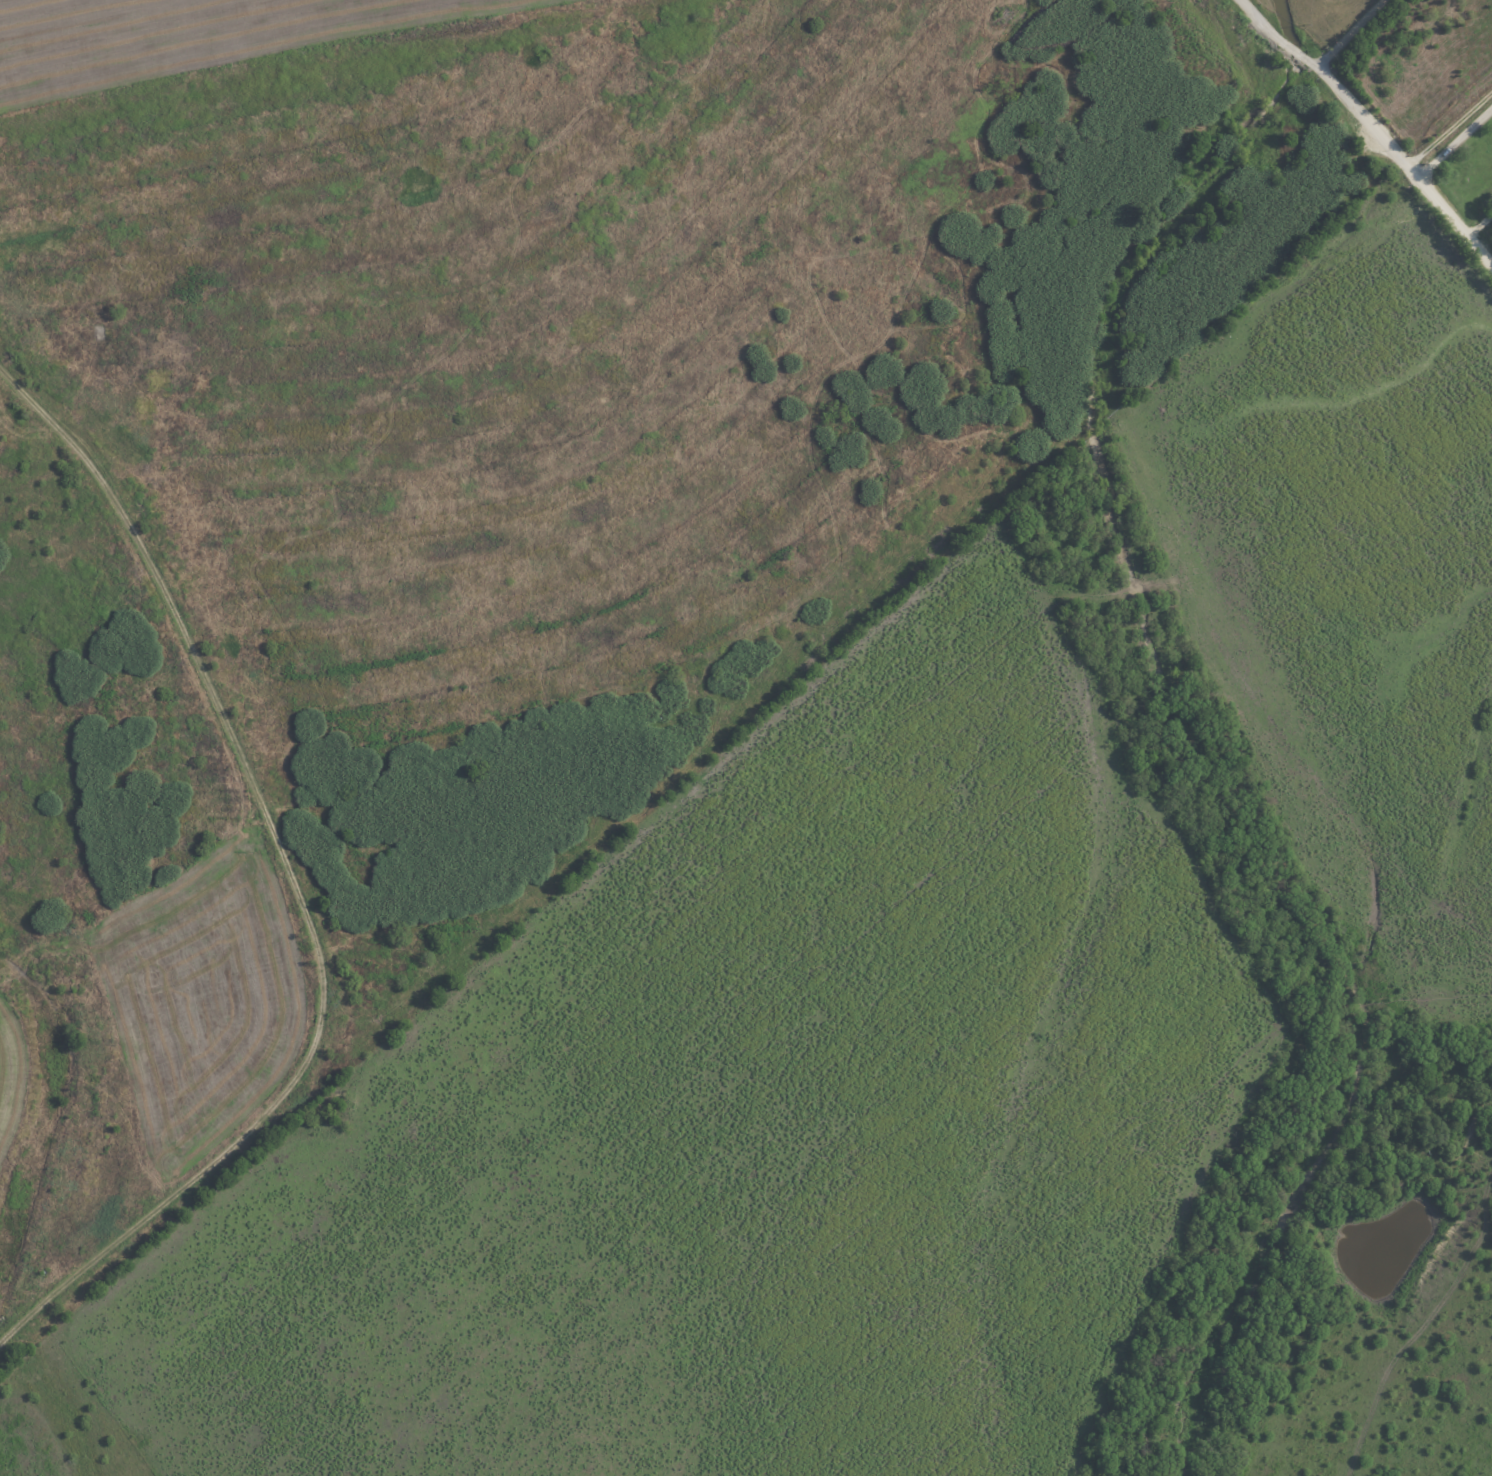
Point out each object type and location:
road: (1351, 33)
road: (1371, 127)
road: (1454, 144)
road: (299, 884)

